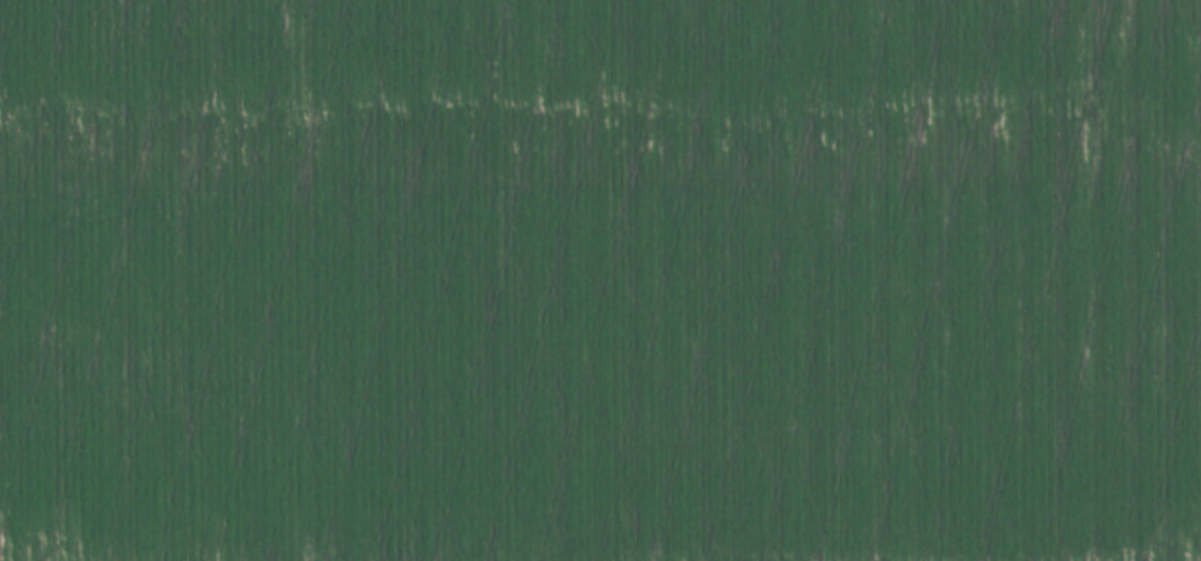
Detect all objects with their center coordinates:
crop: (600, 280)

